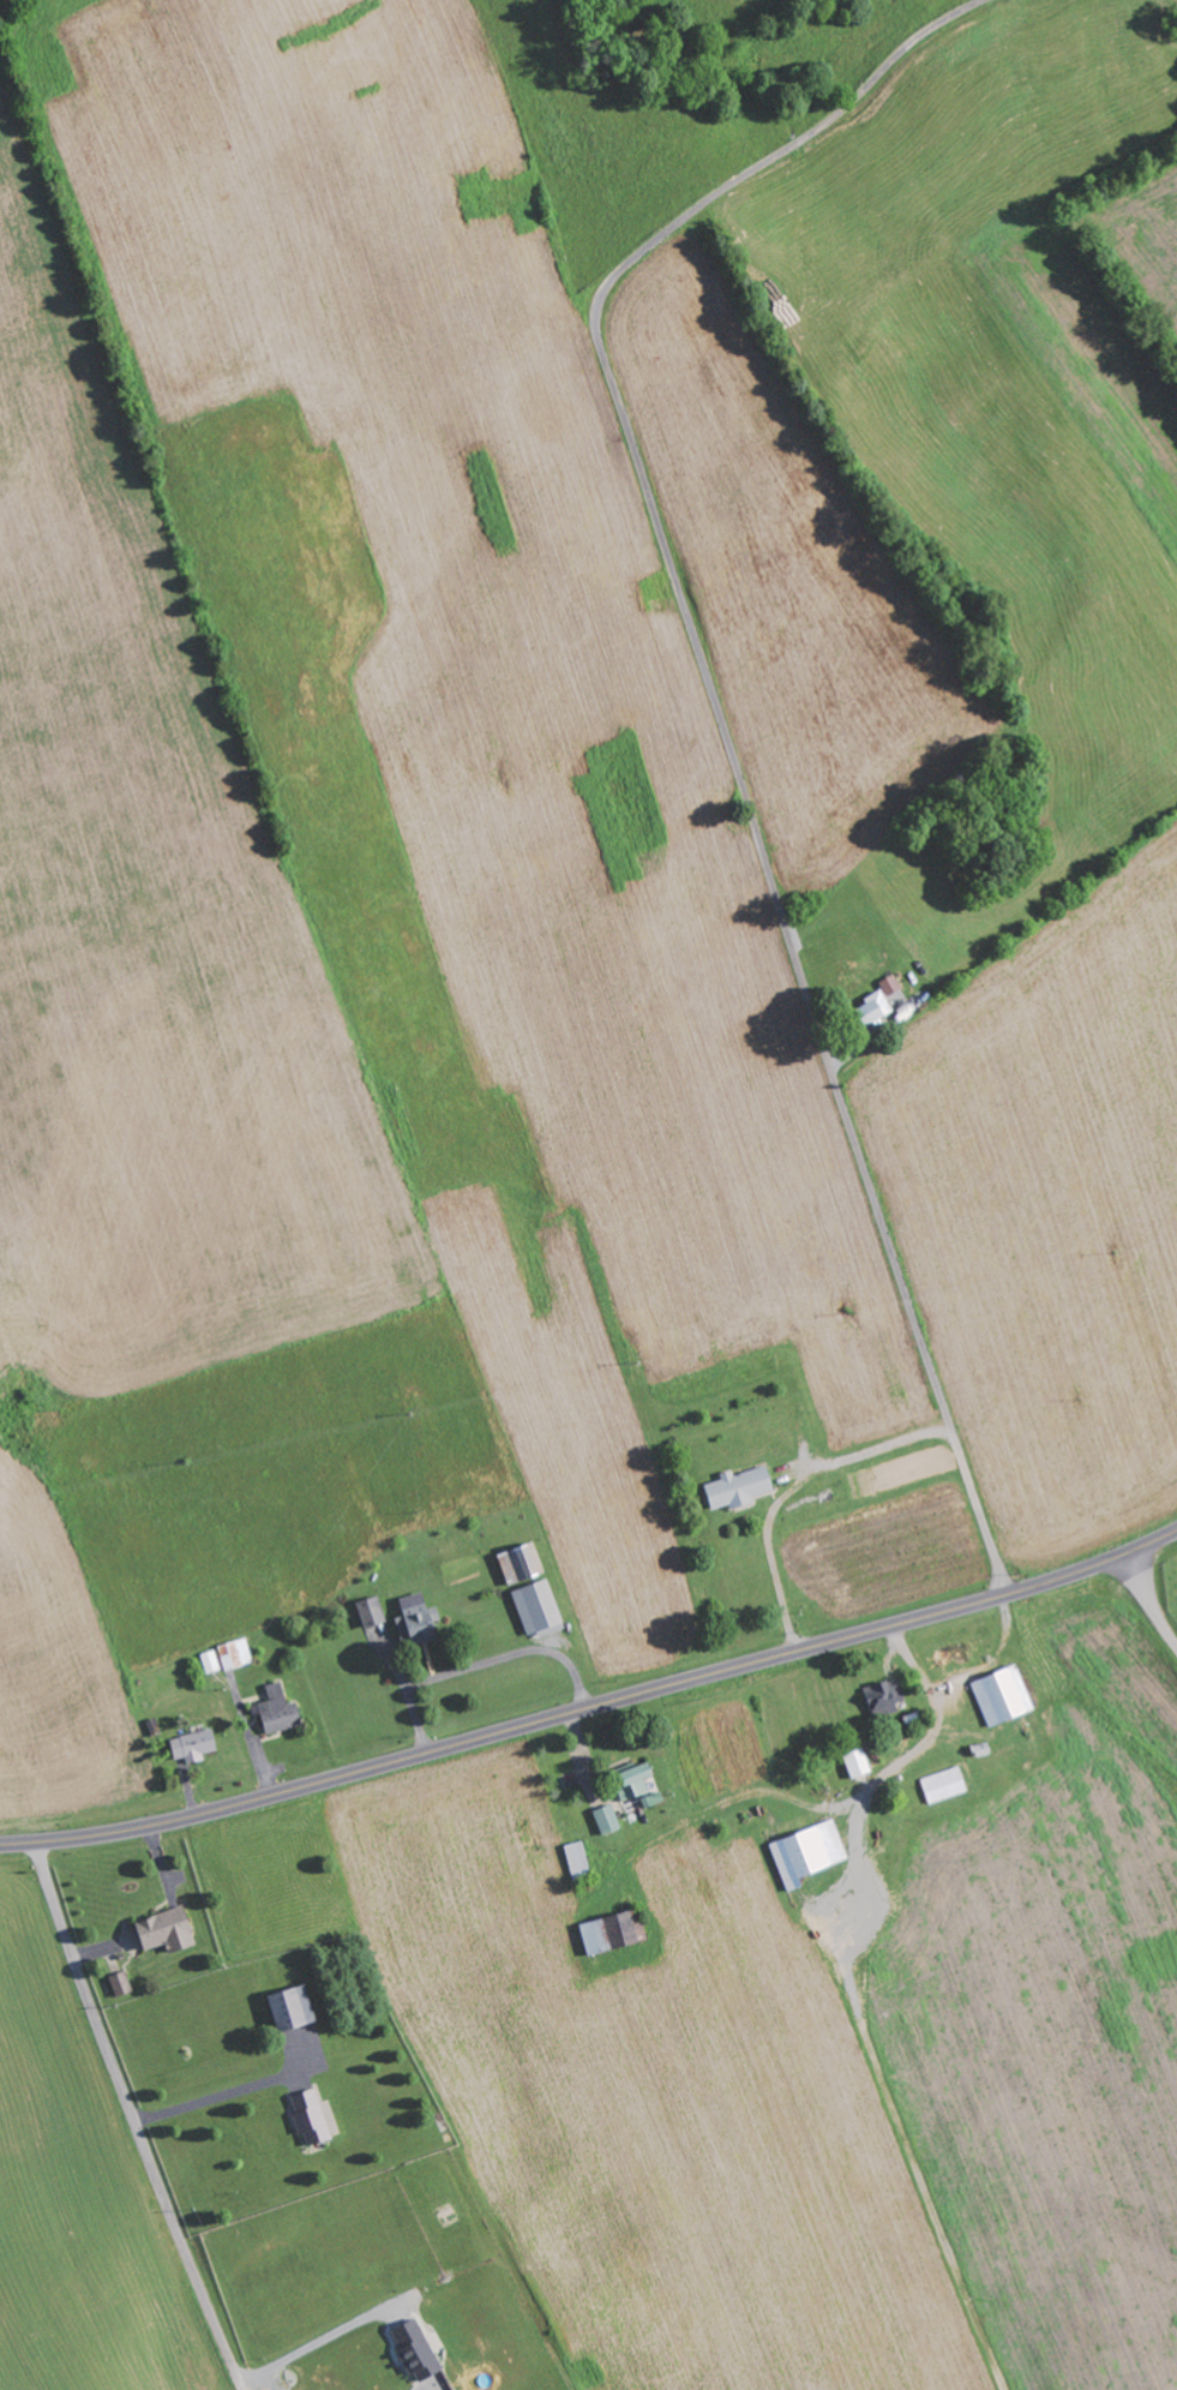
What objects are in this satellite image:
road: (720, 714)
building: (891, 986)
building: (873, 1010)
building: (740, 1486)
building: (522, 1562)
road: (1143, 1601)
building: (539, 1607)
building: (372, 1611)
building: (415, 1618)
building: (236, 1653)
building: (211, 1660)
building: (1004, 1695)
building: (888, 1697)
road: (593, 1708)
building: (280, 1709)
building: (194, 1744)
building: (859, 1762)
building: (635, 1780)
building: (945, 1784)
building: (654, 1798)
building: (608, 1817)
building: (809, 1852)
building: (580, 1859)
building: (167, 1930)
building: (614, 1931)
building: (122, 1983)
building: (293, 2007)
building: (312, 2116)
road: (133, 2118)
building: (418, 2350)

